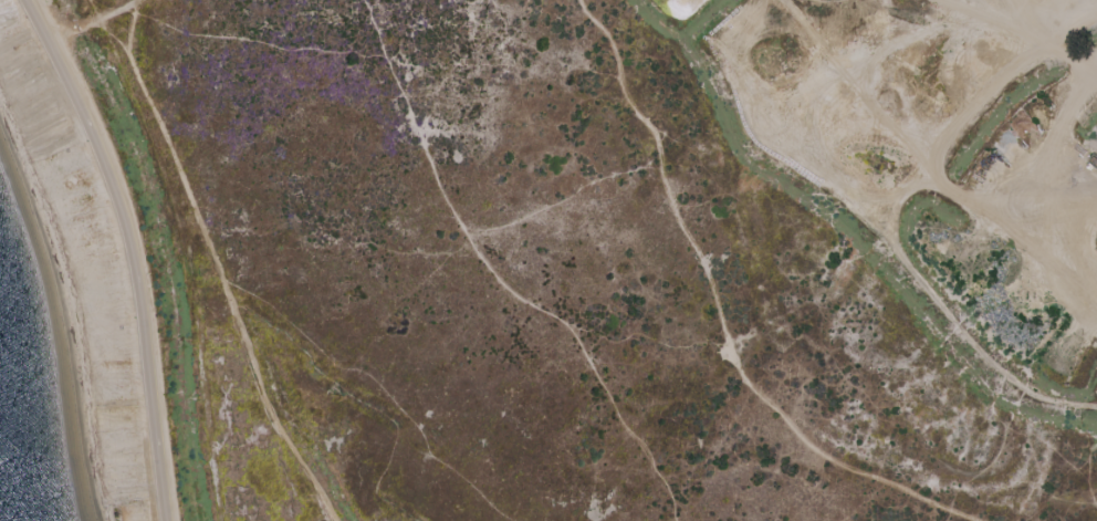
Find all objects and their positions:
road: (109, 6)
road: (82, 24)
road: (129, 24)
road: (130, 250)
park: (577, 254)
road: (213, 261)
road: (498, 280)
road: (719, 323)
road: (379, 385)
road: (362, 399)

